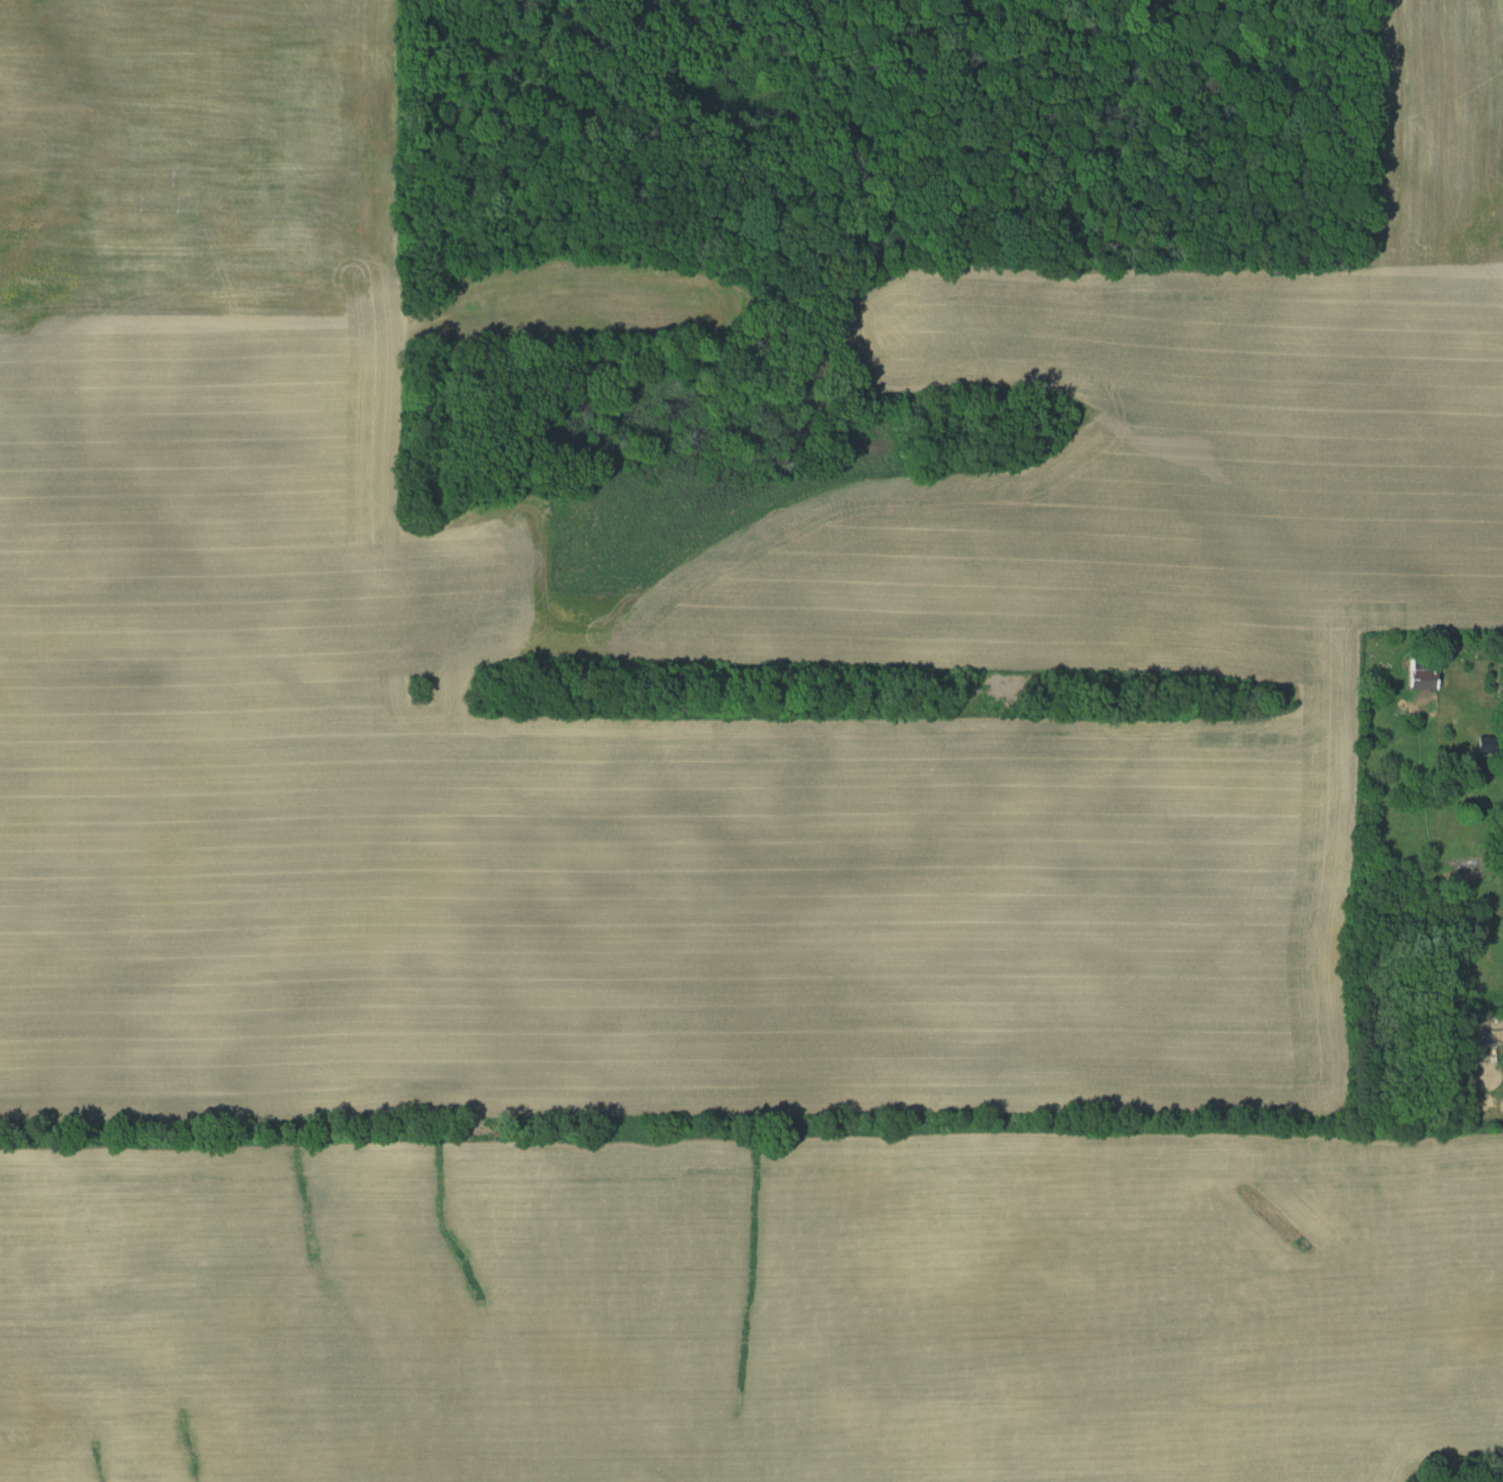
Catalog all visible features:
building: (1418, 673)
building: (1488, 744)

